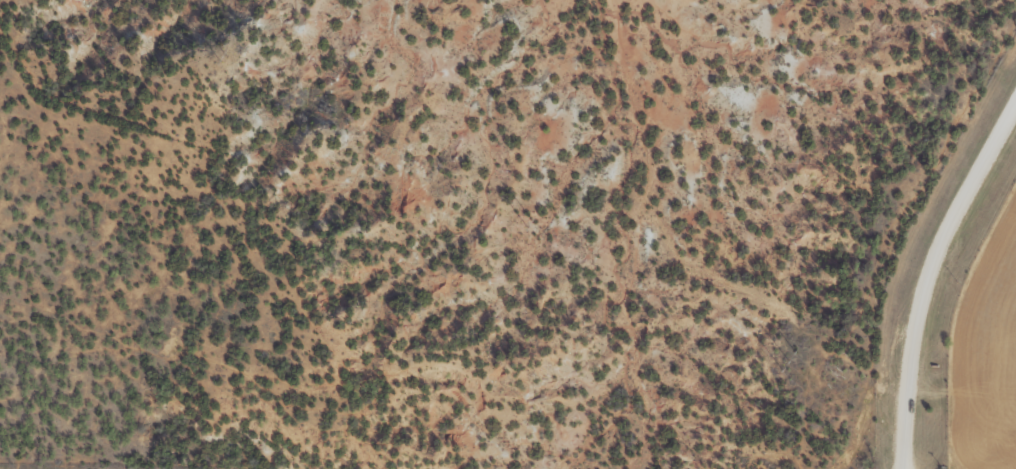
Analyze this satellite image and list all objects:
power tower: (223, 58)
power tower: (528, 223)
road: (928, 279)
power tower: (788, 360)

